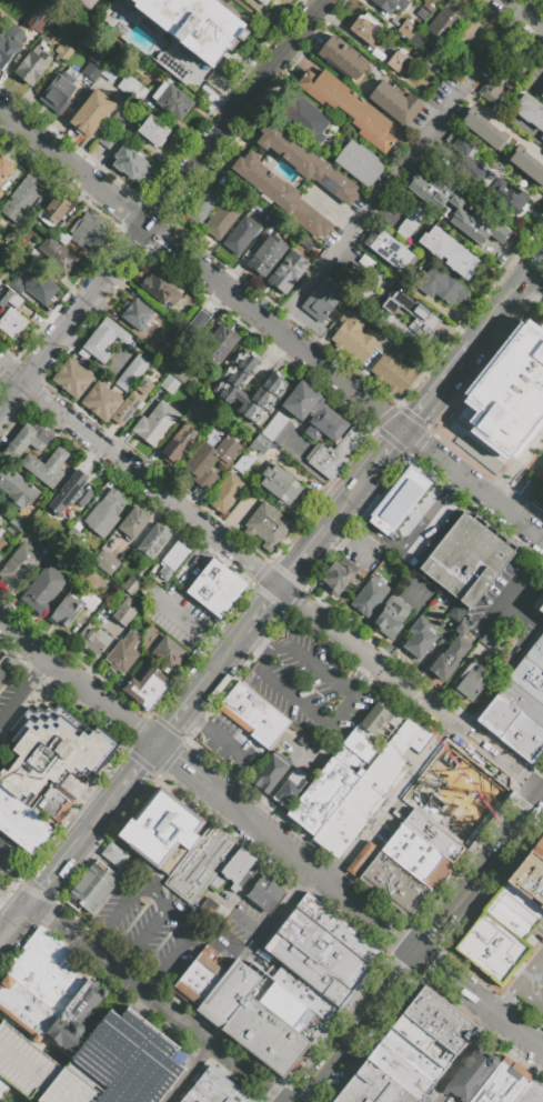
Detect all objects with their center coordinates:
building: (263, 2)
building: (84, 3)
building: (391, 4)
building: (428, 4)
road: (524, 14)
building: (41, 18)
building: (444, 21)
building: (195, 24)
building: (364, 28)
building: (406, 29)
building: (467, 34)
building: (9, 44)
building: (62, 52)
building: (379, 56)
building: (344, 58)
building: (95, 59)
building: (454, 61)
building: (398, 62)
building: (172, 64)
building: (32, 66)
building: (110, 72)
building: (499, 78)
building: (132, 89)
building: (59, 91)
building: (542, 96)
building: (172, 100)
building: (395, 102)
building: (349, 108)
building: (530, 110)
building: (91, 112)
building: (119, 119)
building: (303, 119)
building: (483, 129)
building: (153, 130)
building: (107, 138)
building: (541, 139)
road: (534, 149)
building: (304, 161)
building: (131, 162)
building: (359, 163)
building: (526, 163)
road: (400, 173)
building: (7, 174)
building: (477, 176)
building: (279, 193)
building: (20, 198)
building: (200, 204)
building: (457, 206)
road: (162, 207)
building: (54, 210)
building: (222, 219)
building: (413, 223)
building: (84, 229)
building: (242, 233)
building: (11, 236)
building: (306, 242)
building: (2, 247)
building: (390, 250)
building: (449, 251)
building: (267, 254)
building: (56, 256)
building: (365, 261)
road: (536, 266)
building: (286, 271)
road: (201, 273)
road: (536, 279)
building: (440, 284)
building: (36, 288)
building: (160, 288)
building: (9, 297)
building: (322, 299)
building: (0, 310)
road: (502, 310)
building: (138, 314)
building: (424, 318)
building: (13, 325)
building: (344, 328)
building: (187, 335)
building: (356, 339)
building: (103, 340)
building: (160, 342)
building: (218, 343)
building: (371, 345)
building: (386, 363)
building: (132, 372)
building: (182, 372)
road: (2, 373)
building: (72, 378)
building: (402, 378)
building: (170, 384)
building: (271, 385)
park: (7, 388)
road: (439, 390)
road: (7, 391)
building: (509, 393)
building: (101, 401)
building: (132, 401)
building: (201, 410)
building: (313, 413)
building: (149, 420)
building: (161, 427)
building: (273, 427)
building: (358, 433)
traffic signals: (403, 434)
building: (28, 440)
building: (179, 443)
building: (350, 443)
building: (260, 444)
building: (343, 451)
building: (211, 458)
road: (384, 458)
building: (326, 461)
building: (243, 463)
road: (515, 465)
building: (46, 467)
building: (8, 479)
building: (278, 483)
road: (473, 489)
building: (70, 492)
building: (225, 492)
building: (22, 493)
building: (396, 500)
road: (346, 507)
building: (105, 512)
building: (0, 513)
building: (133, 522)
building: (18, 525)
building: (267, 525)
building: (2, 535)
building: (153, 540)
building: (53, 543)
building: (453, 550)
building: (1, 559)
building: (173, 560)
road: (304, 560)
building: (13, 561)
building: (105, 562)
building: (22, 570)
building: (479, 570)
building: (336, 575)
road: (270, 581)
building: (129, 584)
building: (42, 588)
building: (215, 588)
building: (369, 595)
building: (90, 602)
building: (68, 608)
building: (541, 608)
road: (262, 612)
building: (455, 612)
building: (122, 613)
building: (433, 613)
building: (392, 614)
road: (192, 629)
building: (141, 630)
building: (542, 631)
building: (86, 634)
building: (419, 637)
building: (487, 638)
building: (539, 641)
building: (98, 642)
road: (254, 643)
building: (450, 653)
road: (519, 654)
road: (230, 655)
building: (534, 657)
building: (120, 658)
building: (175, 659)
road: (38, 671)
building: (2, 678)
building: (155, 678)
road: (360, 678)
building: (527, 679)
building: (472, 681)
road: (80, 682)
building: (144, 689)
parking lot: (309, 689)
parking lot: (11, 692)
building: (137, 698)
building: (522, 702)
road: (14, 704)
building: (247, 705)
road: (185, 709)
road: (340, 715)
road: (198, 721)
building: (512, 728)
building: (272, 731)
building: (402, 735)
building: (420, 740)
traffic signals: (160, 745)
parking lot: (232, 747)
building: (52, 750)
road: (235, 750)
road: (7, 757)
road: (184, 763)
building: (343, 769)
road: (138, 771)
building: (270, 772)
road: (230, 781)
building: (290, 788)
building: (353, 794)
road: (541, 795)
traffic signals: (540, 798)
road: (233, 802)
building: (52, 803)
building: (360, 803)
road: (391, 803)
building: (369, 809)
road: (102, 818)
building: (168, 820)
building: (22, 822)
building: (432, 834)
building: (541, 835)
building: (144, 842)
building: (536, 848)
building: (422, 849)
road: (294, 851)
building: (114, 854)
building: (359, 858)
building: (200, 861)
building: (411, 863)
building: (238, 865)
road: (24, 866)
building: (533, 868)
road: (61, 869)
building: (403, 873)
road: (479, 873)
road: (252, 879)
building: (399, 879)
building: (99, 880)
building: (394, 884)
building: (527, 886)
building: (263, 892)
building: (386, 893)
road: (132, 898)
building: (82, 899)
traffic signals: (37, 902)
road: (284, 912)
road: (18, 924)
parking lot: (149, 928)
building: (339, 929)
road: (150, 932)
building: (500, 934)
building: (36, 938)
road: (189, 939)
road: (99, 941)
building: (43, 943)
road: (94, 948)
road: (414, 948)
traffic signals: (419, 951)
building: (57, 953)
building: (316, 956)
road: (125, 962)
road: (541, 962)
building: (77, 969)
building: (44, 973)
building: (198, 976)
parking lot: (532, 981)
road: (155, 984)
road: (520, 984)
building: (227, 993)
building: (304, 993)
road: (530, 999)
building: (434, 1004)
building: (26, 1008)
building: (288, 1009)
building: (76, 1015)
road: (135, 1015)
building: (423, 1019)
building: (244, 1020)
road: (185, 1021)
road: (359, 1026)
road: (521, 1031)
building: (454, 1032)
building: (422, 1040)
building: (276, 1044)
building: (411, 1055)
road: (465, 1058)
building: (95, 1063)
parking garage: (95, 1063)
building: (398, 1070)
road: (197, 1074)
road: (252, 1075)
building: (470, 1075)
building: (503, 1083)
building: (3, 1086)
building: (372, 1086)
building: (220, 1088)
building: (531, 1091)
building: (194, 1096)
building: (540, 1098)

